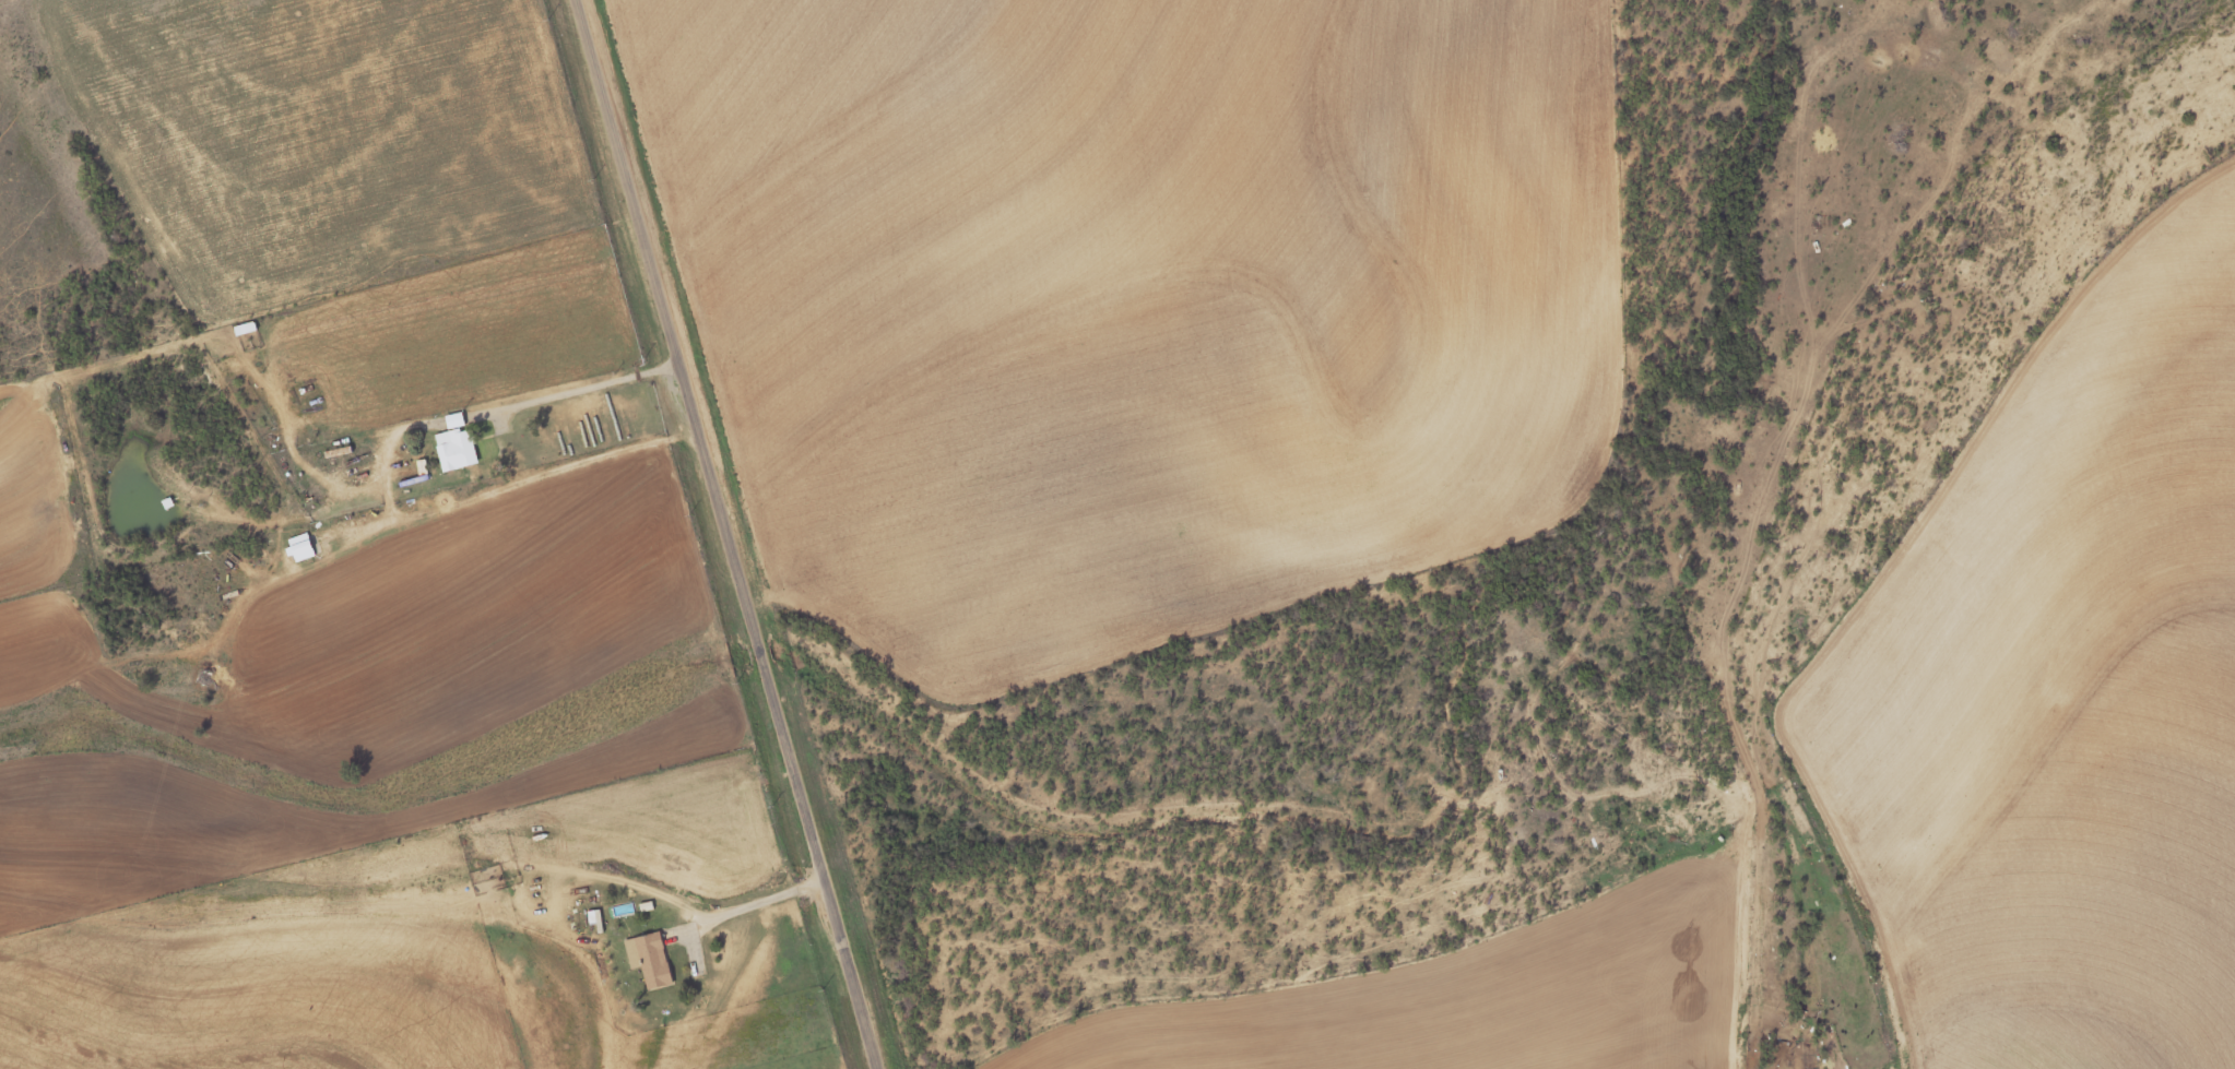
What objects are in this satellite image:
road: (732, 534)
building: (596, 918)
building: (652, 959)

